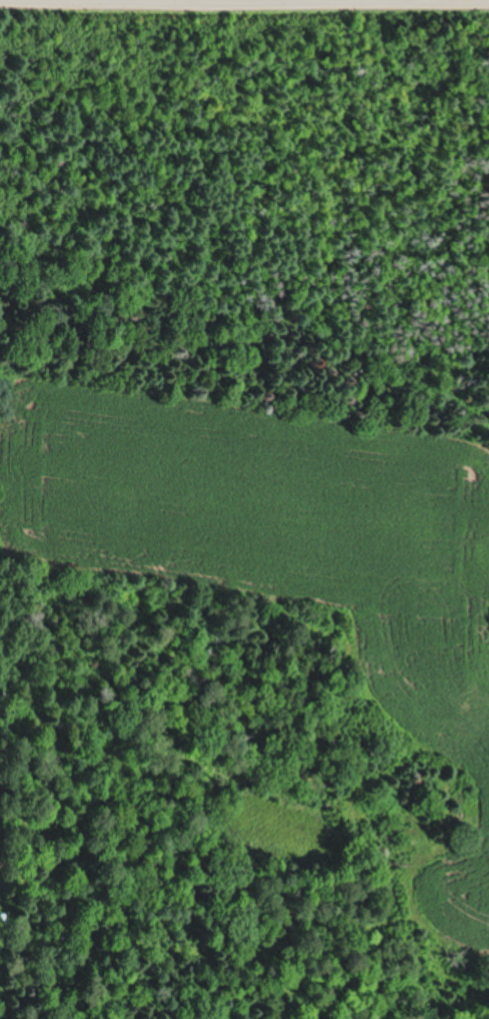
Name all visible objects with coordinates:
road: (182, 0)

